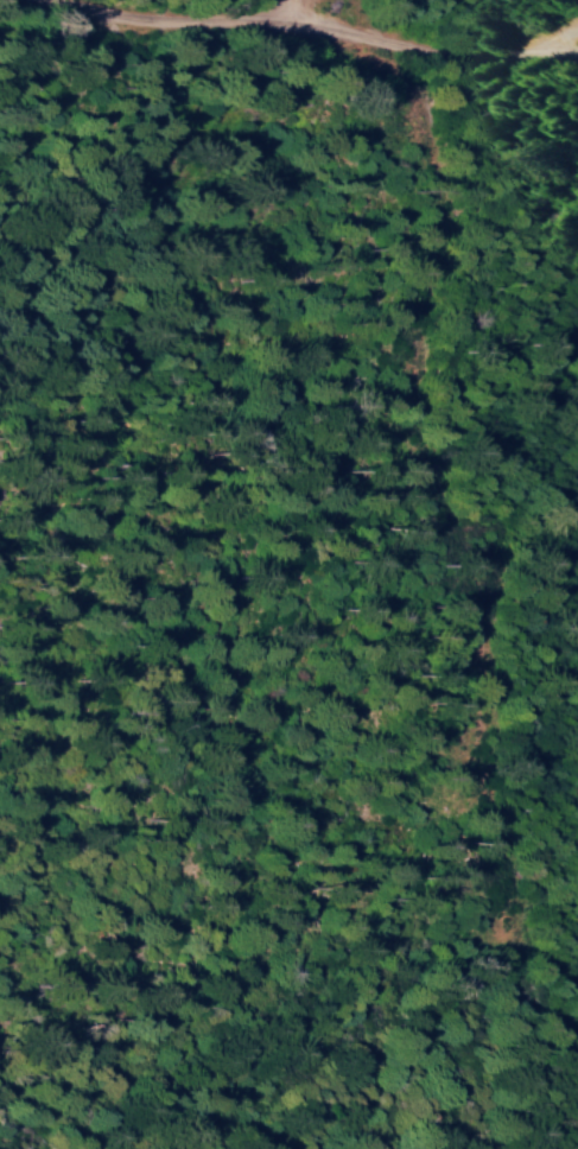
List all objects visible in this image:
road: (319, 28)

